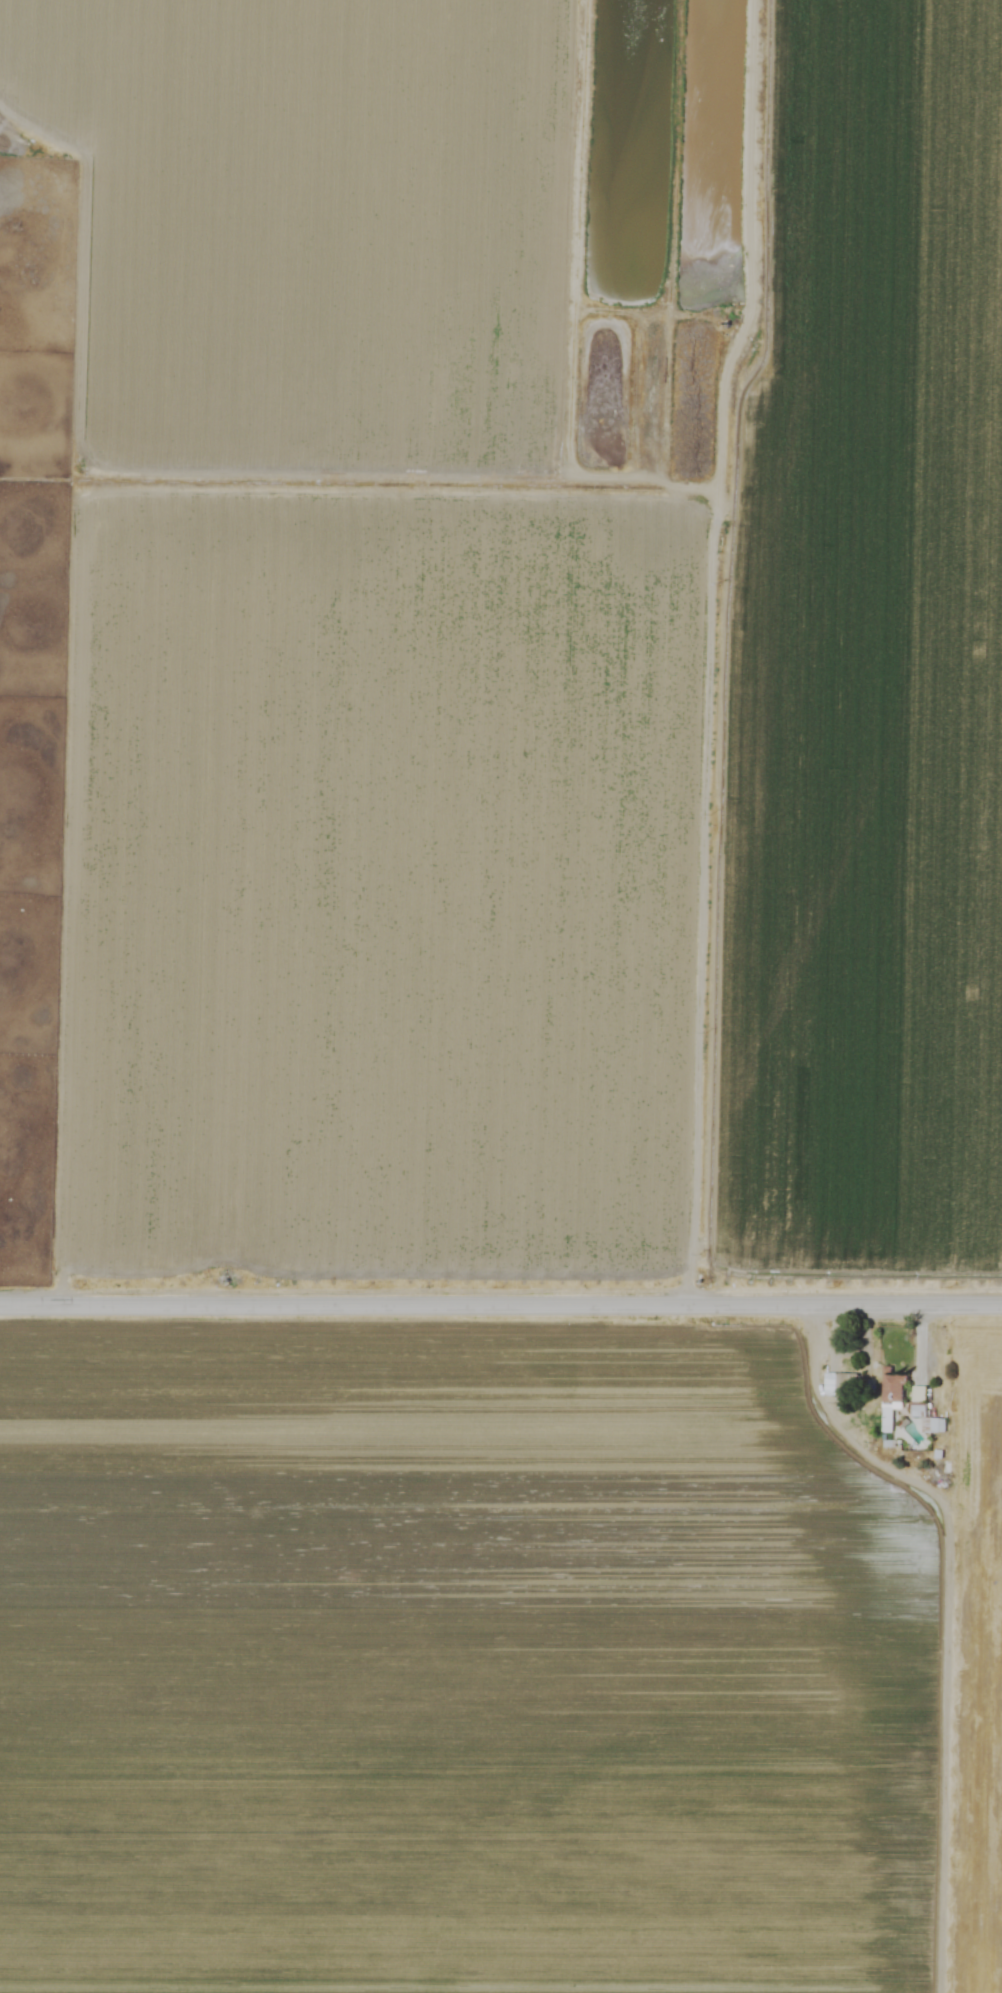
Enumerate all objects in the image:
crop: (519, 1007)
road: (501, 1307)
building: (839, 1384)
building: (917, 1394)
building: (890, 1396)
building: (915, 1411)

